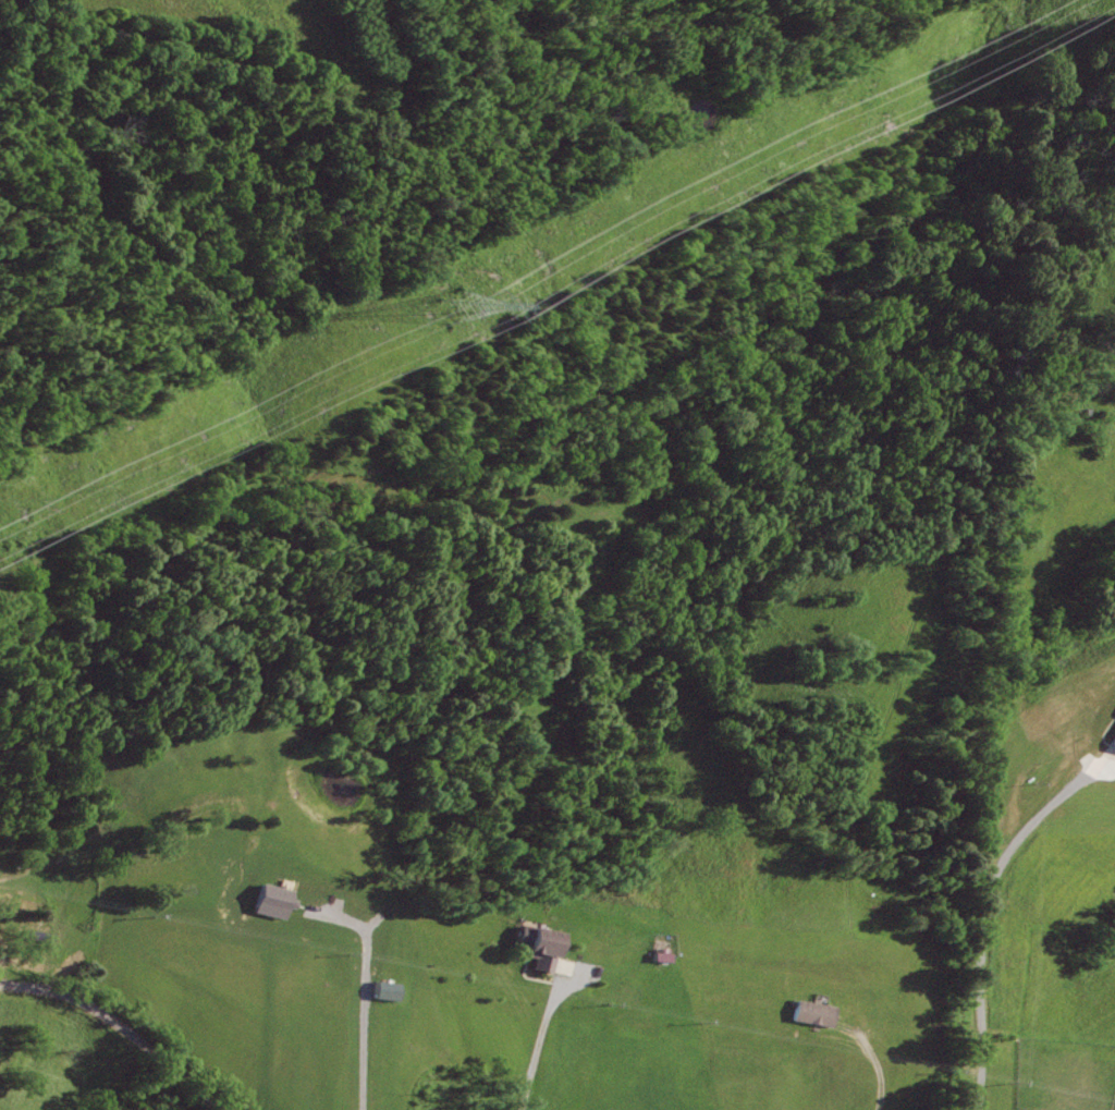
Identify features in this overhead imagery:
power tower: (465, 304)
building: (1113, 741)
building: (270, 901)
road: (984, 926)
building: (535, 947)
building: (561, 966)
building: (383, 990)
road: (365, 991)
building: (811, 1013)
road: (123, 1025)
road: (537, 1048)
road: (889, 1064)

